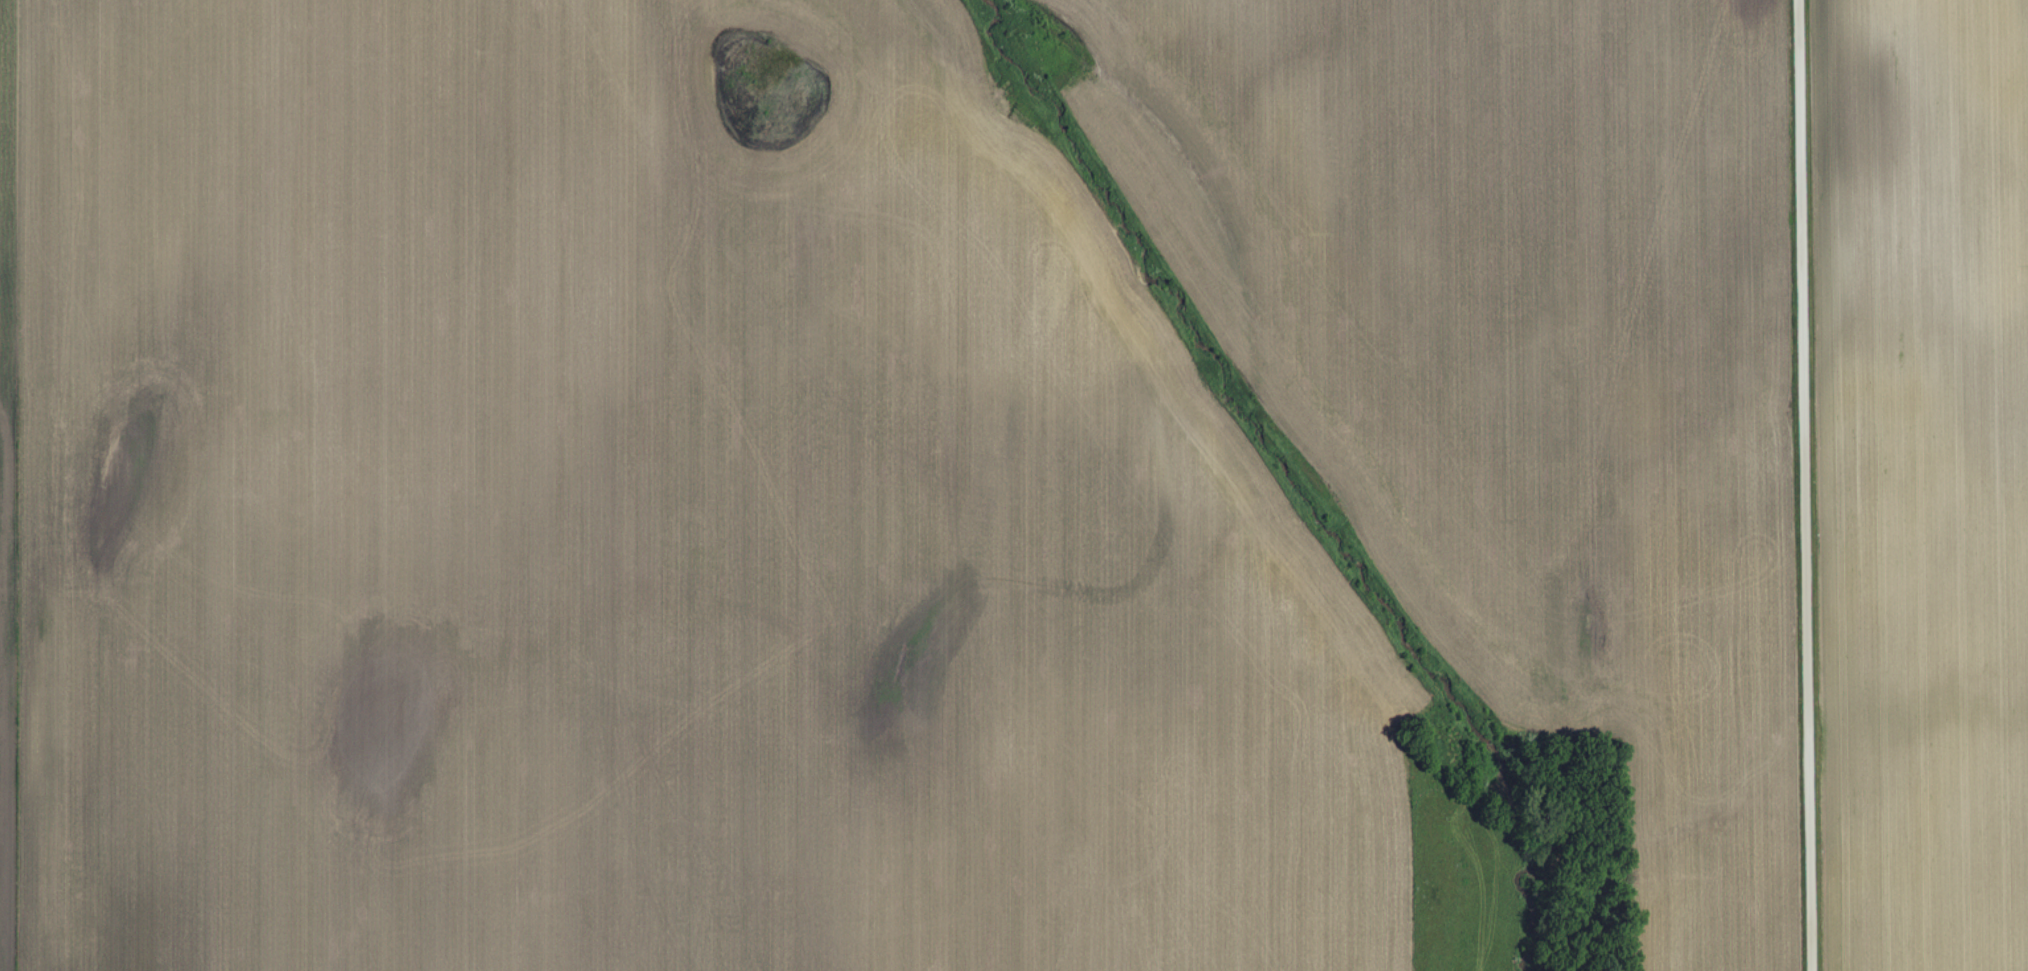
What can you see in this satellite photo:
road: (1804, 485)

